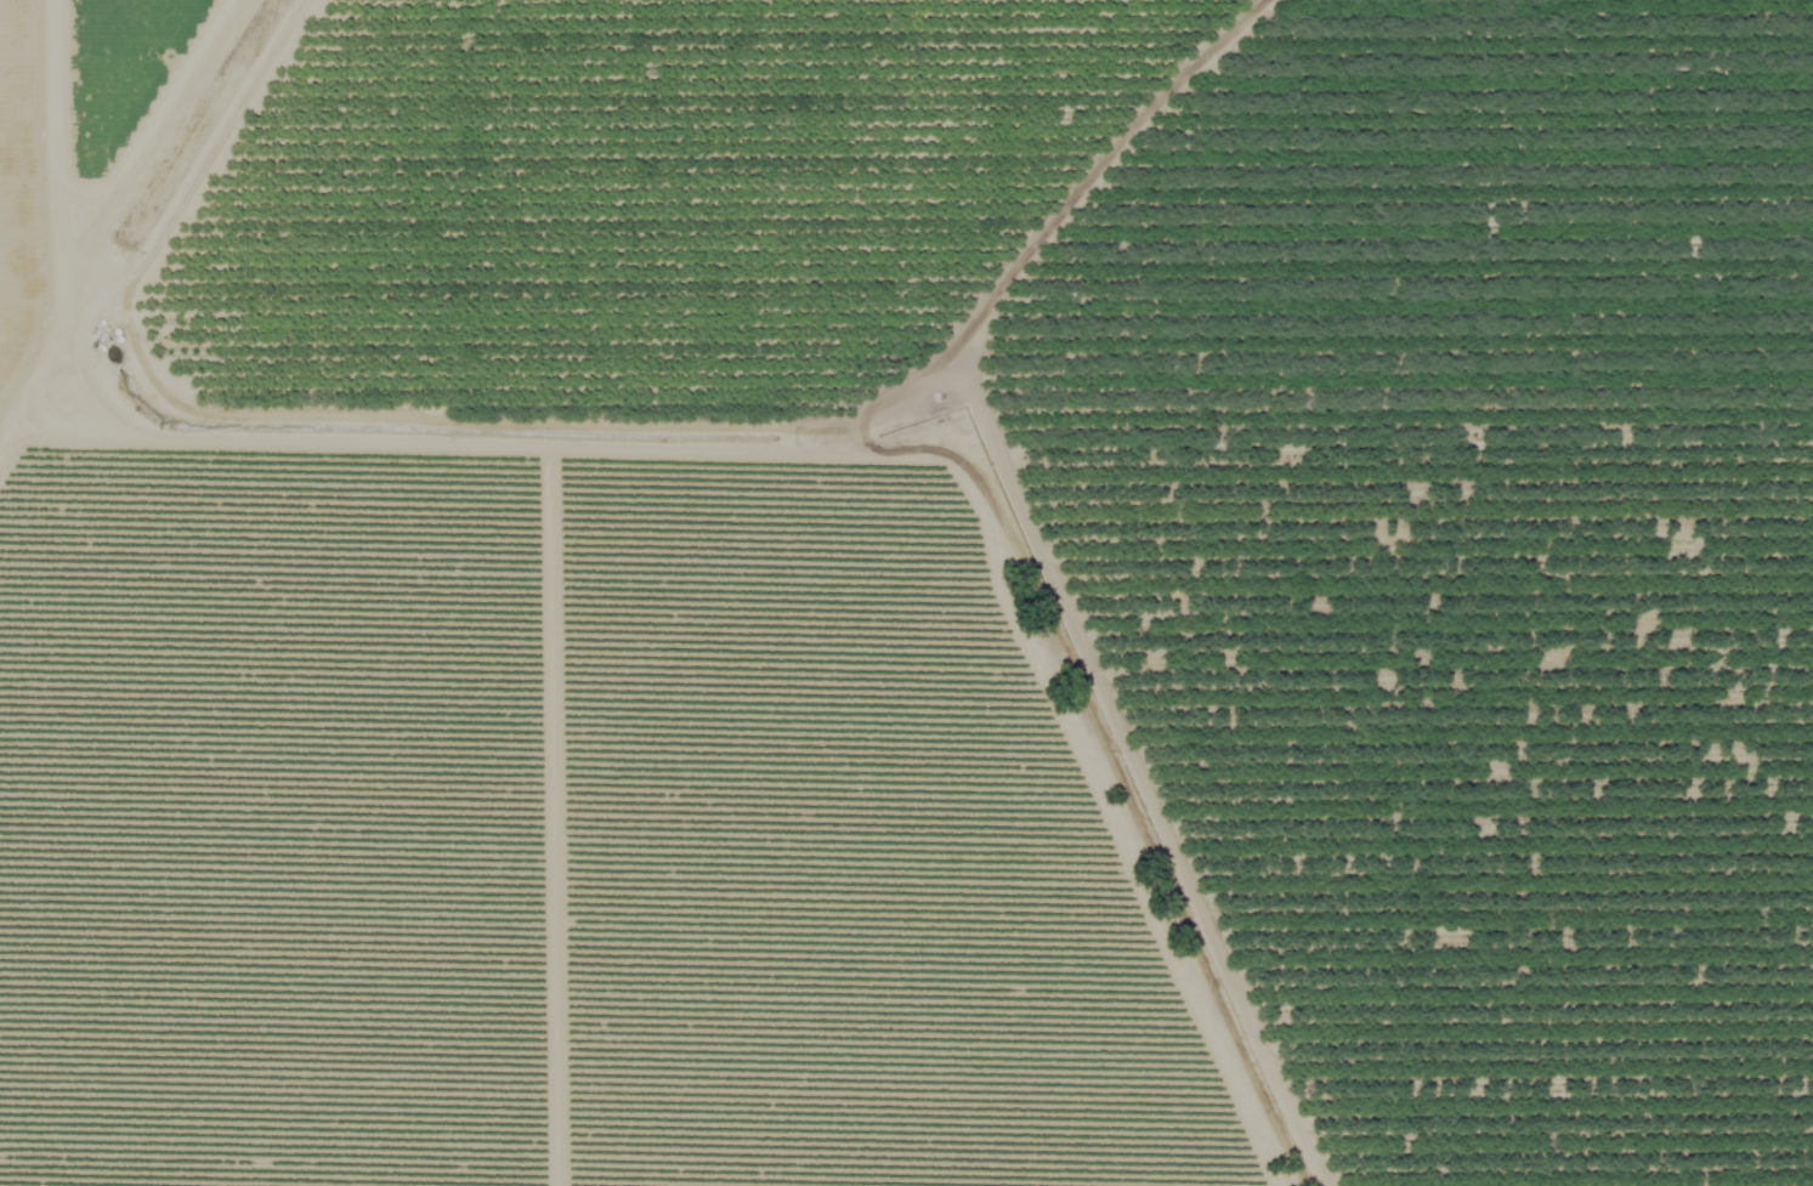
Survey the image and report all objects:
crop: (101, 153)
road: (910, 427)

